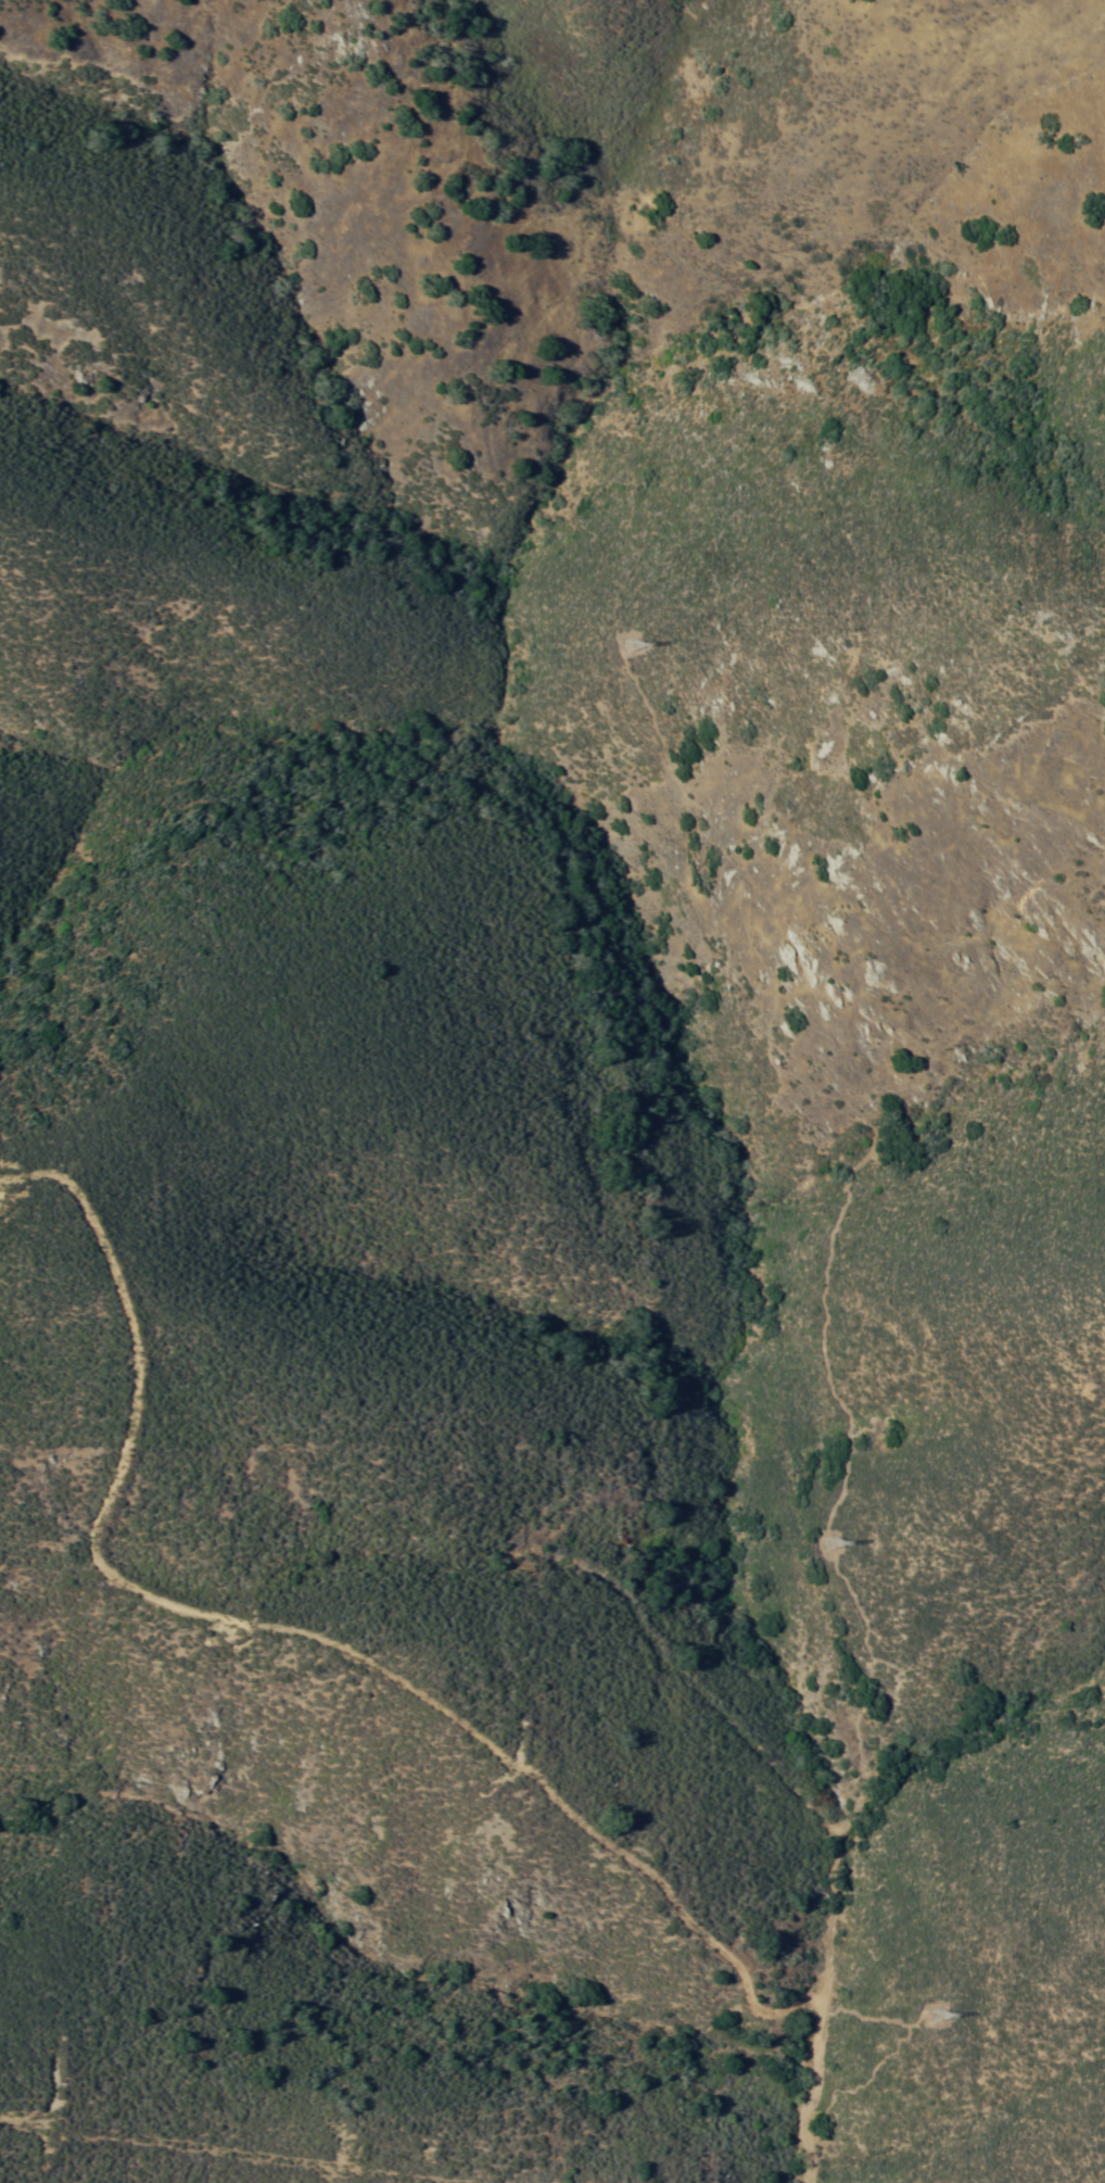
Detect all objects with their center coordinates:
road: (295, 1632)
road: (812, 1810)
road: (228, 2152)

